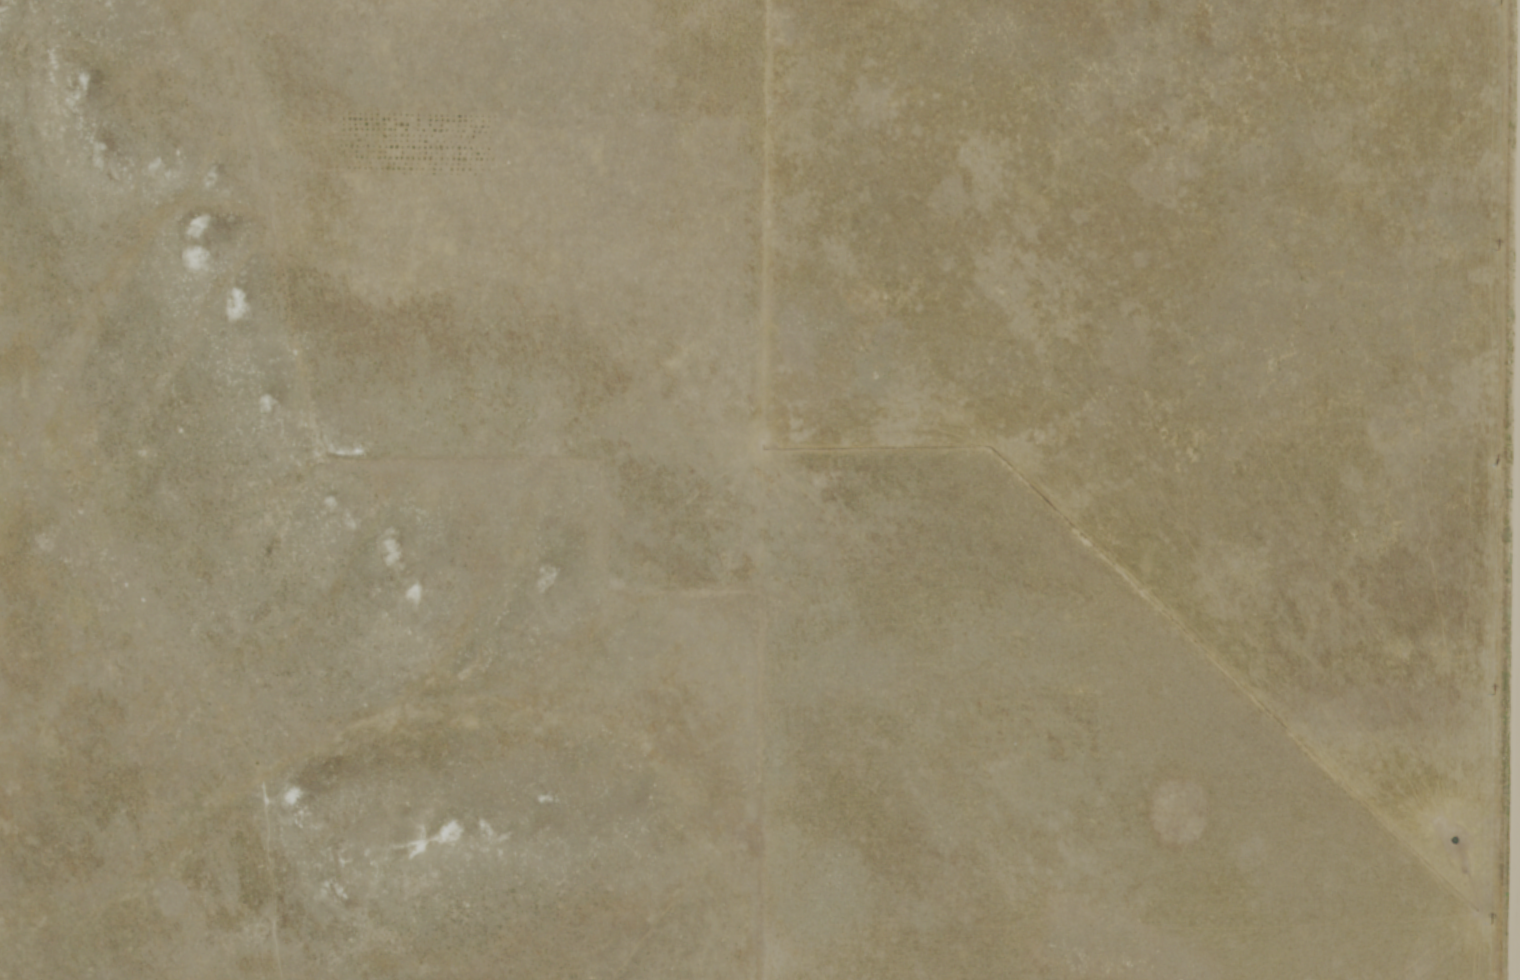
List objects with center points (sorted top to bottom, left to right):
road: (1517, 786)

